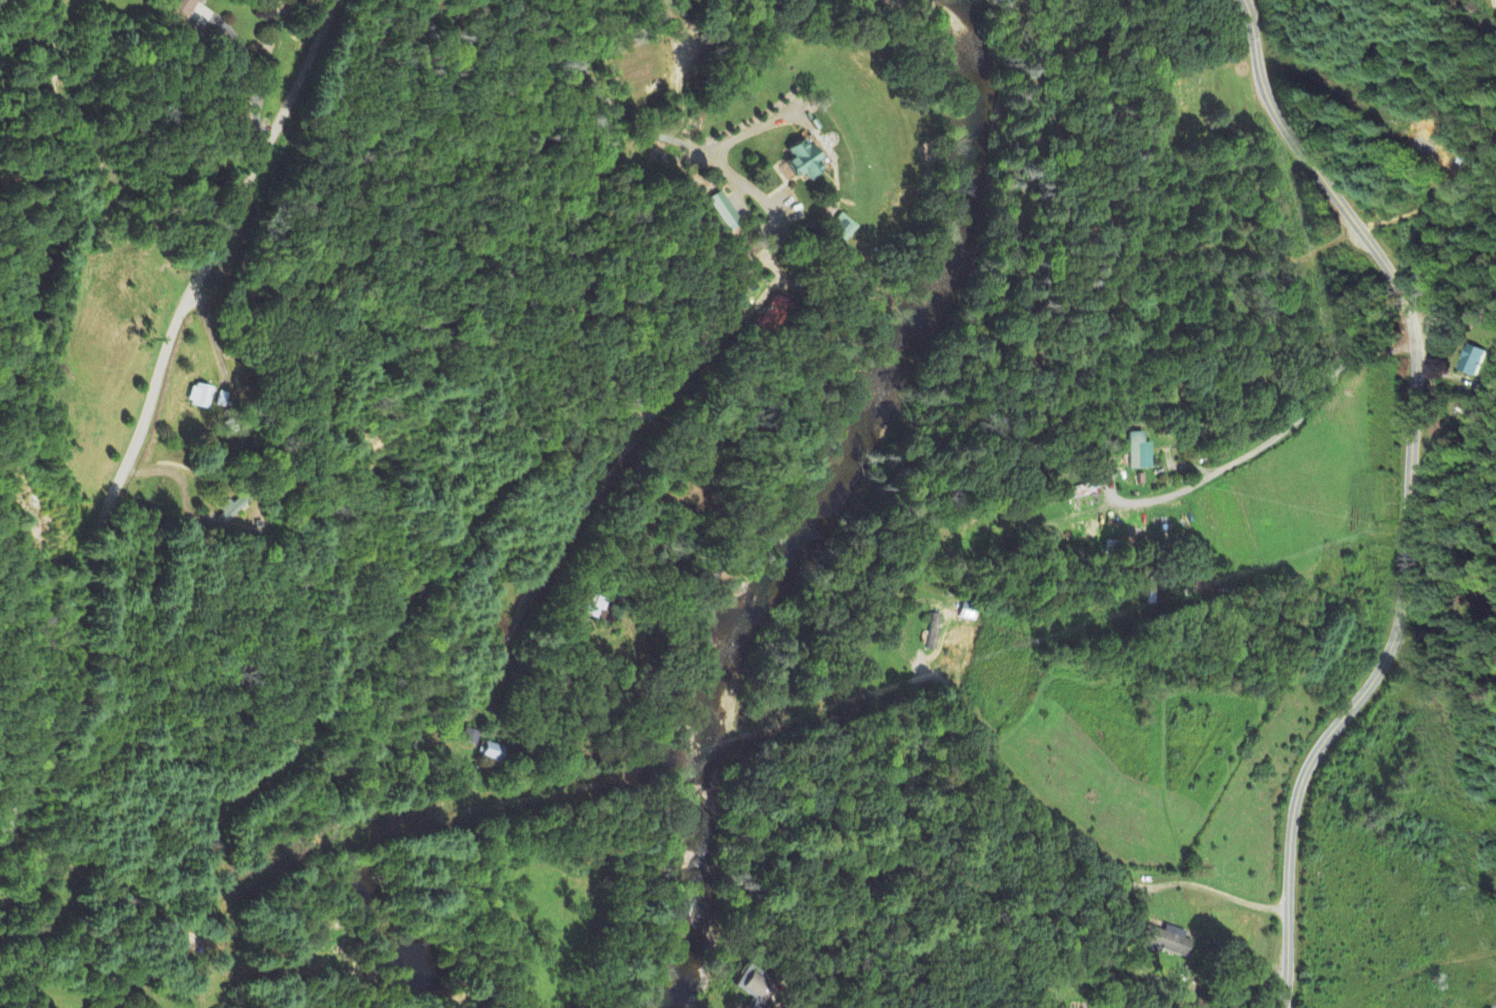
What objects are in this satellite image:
building: (184, 7)
road: (249, 64)
road: (601, 93)
park: (1193, 103)
building: (799, 162)
road: (1324, 177)
river: (971, 186)
road: (753, 194)
building: (723, 211)
building: (841, 229)
road: (673, 290)
building: (771, 316)
road: (585, 342)
building: (1469, 361)
building: (199, 396)
road: (147, 409)
road: (1276, 436)
building: (1138, 452)
building: (230, 508)
building: (593, 606)
river: (739, 673)
road: (1369, 685)
building: (468, 737)
building: (488, 752)
road: (1198, 887)
building: (1165, 942)
road: (865, 952)
building: (753, 989)

